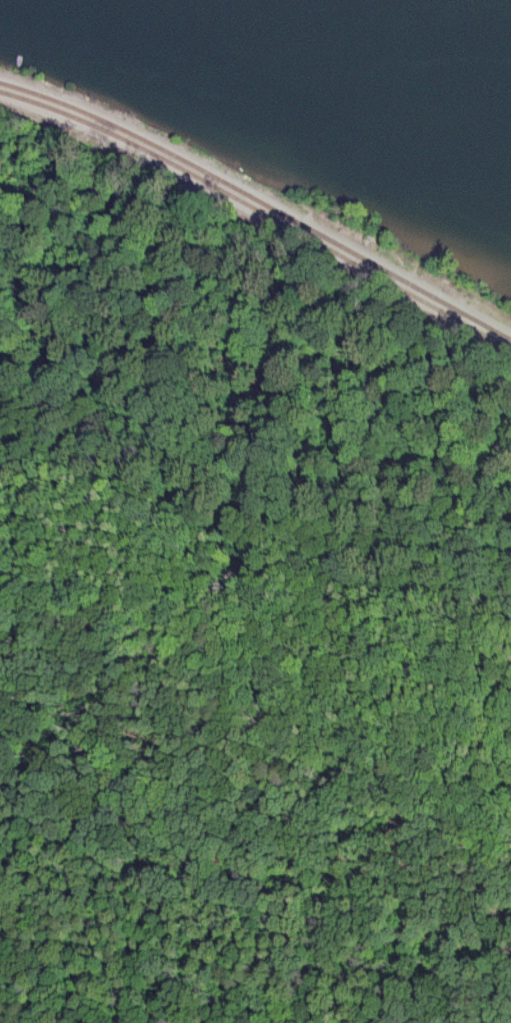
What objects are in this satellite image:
river: (325, 74)
park: (295, 124)
railway: (257, 209)
railway: (257, 221)

